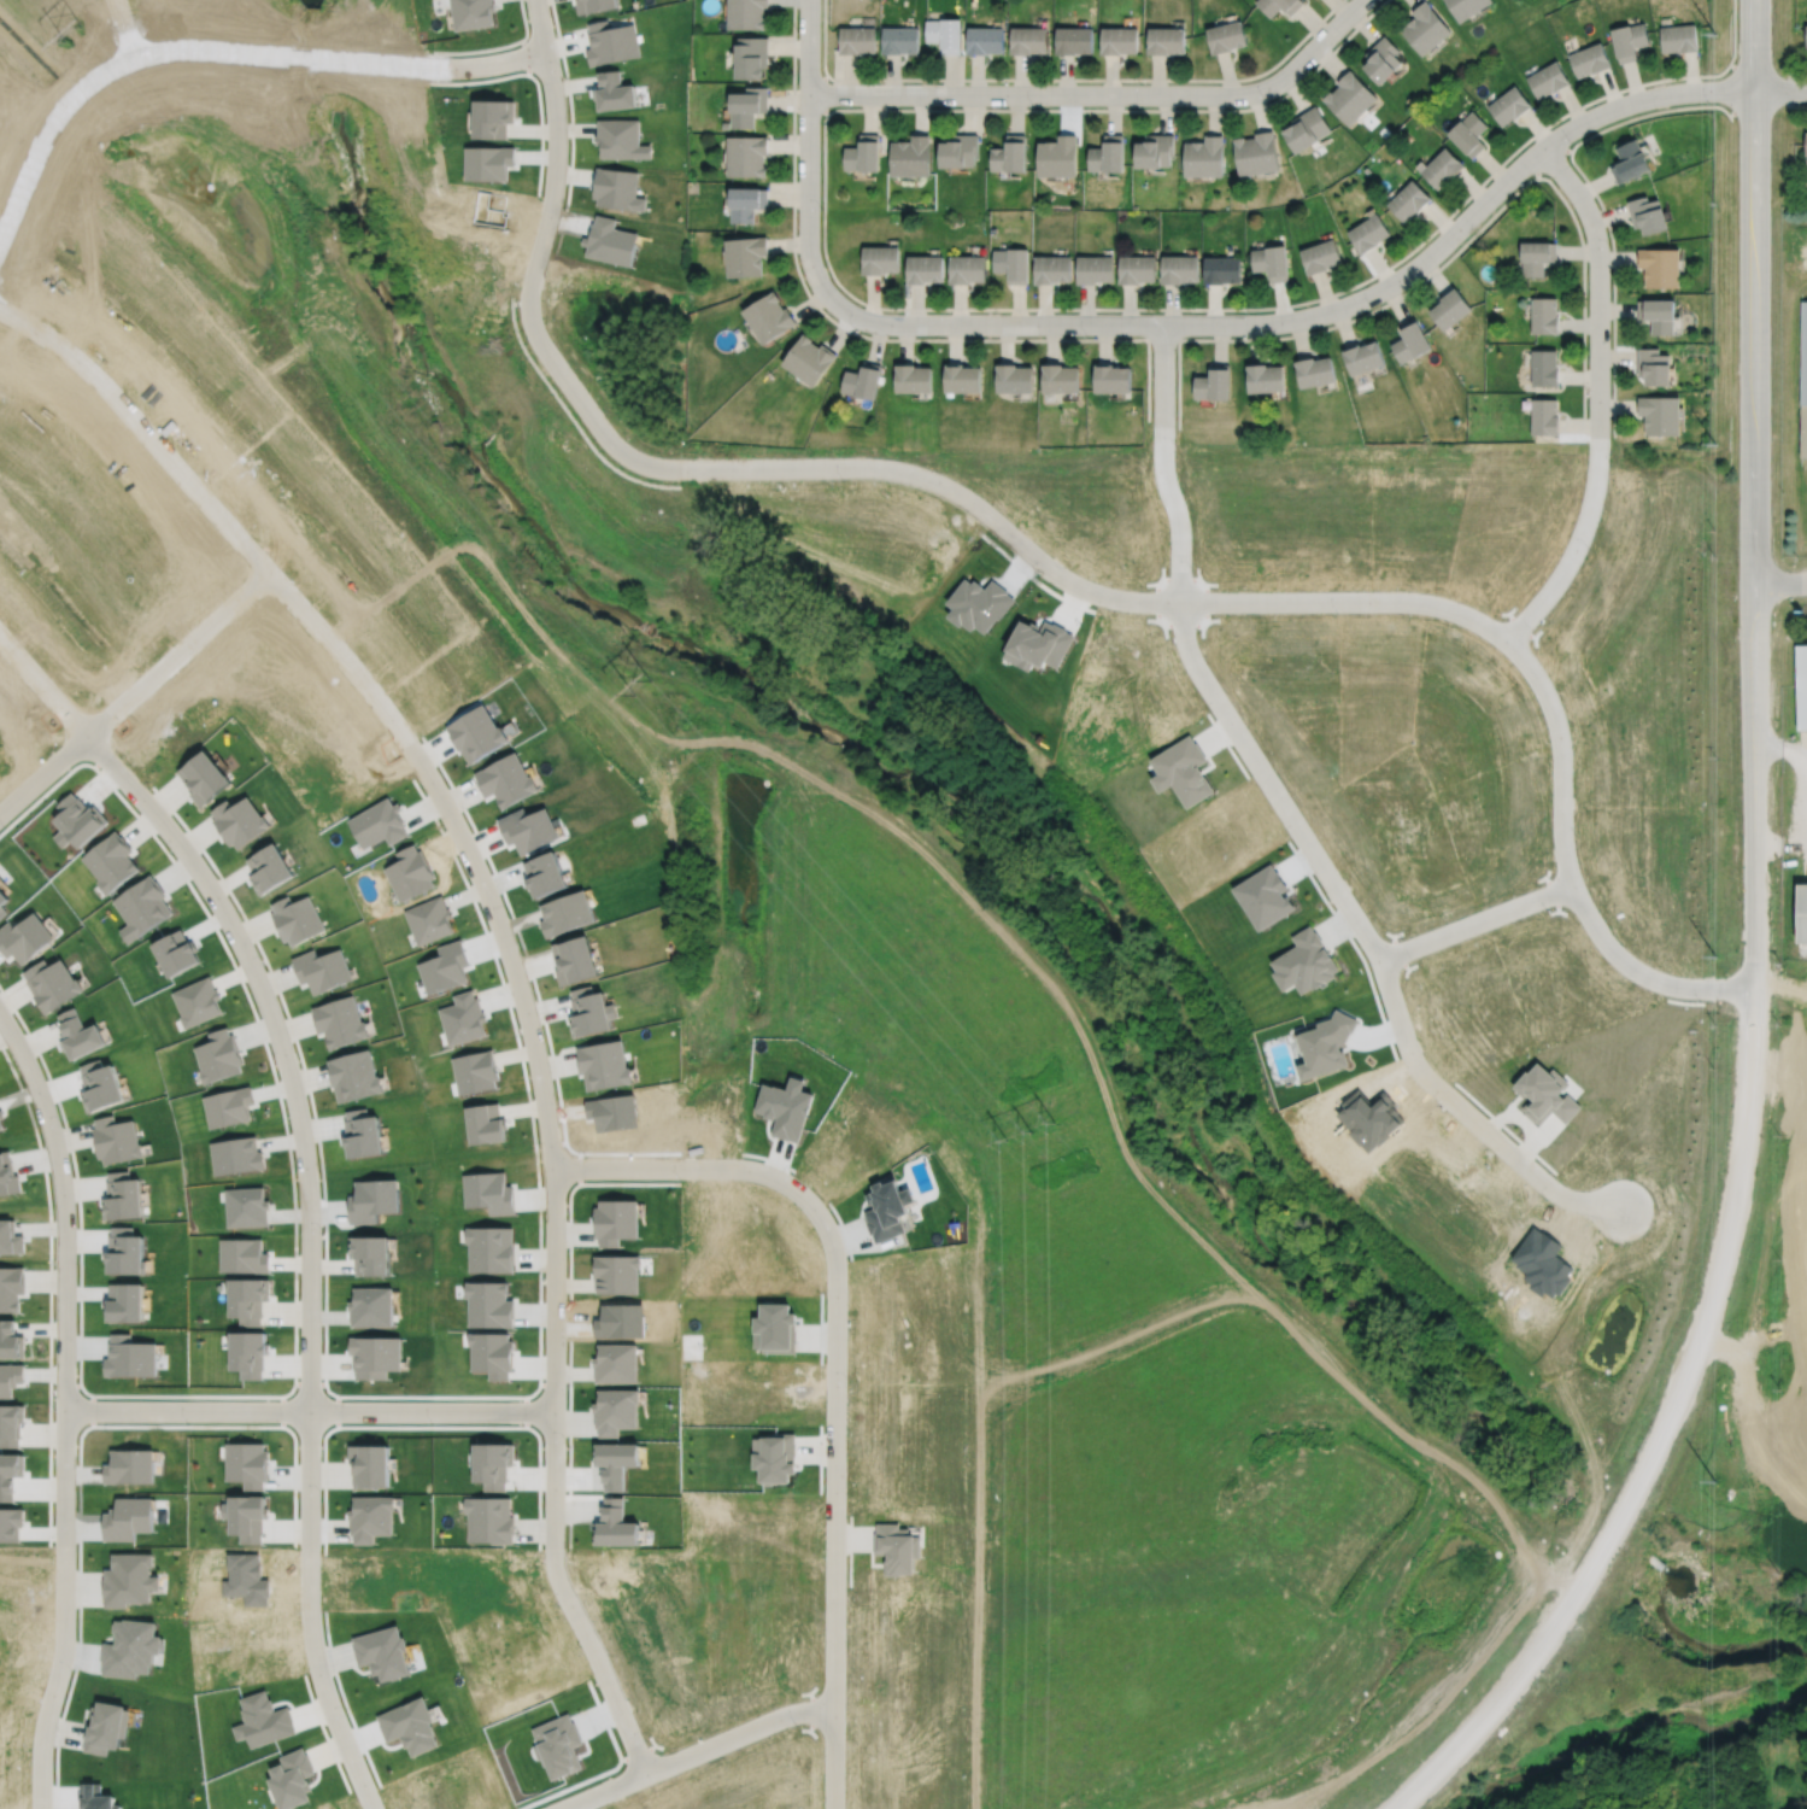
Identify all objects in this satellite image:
building: (593, 5)
building: (1279, 5)
building: (1466, 7)
building: (471, 12)
building: (746, 13)
building: (1426, 27)
power tower: (72, 34)
building: (945, 34)
building: (1226, 36)
building: (1678, 36)
building: (1806, 36)
building: (857, 39)
building: (899, 39)
building: (1074, 39)
building: (1119, 39)
building: (985, 40)
building: (1028, 40)
building: (1166, 40)
building: (1629, 40)
building: (751, 57)
building: (1589, 58)
road: (339, 59)
building: (1383, 59)
building: (1547, 78)
building: (614, 90)
road: (1102, 93)
building: (1350, 98)
road: (58, 103)
building: (1508, 104)
building: (747, 105)
building: (492, 117)
building: (1307, 130)
building: (1468, 134)
building: (620, 137)
building: (1806, 142)
building: (958, 151)
building: (1155, 151)
building: (863, 153)
building: (1256, 153)
road: (808, 154)
building: (1010, 154)
building: (1108, 154)
building: (746, 156)
building: (910, 156)
building: (1204, 156)
building: (1057, 157)
building: (1630, 162)
building: (1442, 168)
building: (617, 188)
building: (1409, 200)
building: (746, 203)
building: (1647, 213)
building: (1368, 233)
building: (745, 256)
building: (1320, 256)
building: (1536, 256)
building: (880, 259)
building: (1271, 262)
building: (1011, 264)
building: (1660, 265)
building: (967, 268)
building: (1051, 268)
building: (1093, 268)
building: (1178, 268)
building: (925, 269)
building: (1137, 269)
building: (1221, 269)
road: (532, 281)
road: (1754, 289)
road: (1351, 303)
building: (1450, 308)
building: (1658, 315)
building: (1544, 316)
building: (768, 317)
building: (1410, 340)
building: (1363, 357)
building: (809, 359)
building: (1654, 367)
building: (1544, 368)
building: (1315, 371)
building: (1014, 377)
building: (1113, 377)
building: (1265, 377)
building: (913, 379)
building: (962, 379)
building: (1060, 379)
building: (1803, 379)
building: (863, 381)
building: (1214, 384)
road: (1598, 398)
building: (1660, 414)
building: (1543, 417)
road: (141, 435)
road: (1779, 581)
road: (1334, 599)
power tower: (596, 633)
road: (180, 655)
building: (1801, 684)
road: (42, 689)
road: (1779, 751)
road: (1753, 767)
building: (1181, 769)
road: (42, 772)
building: (204, 775)
road: (1292, 819)
road: (1779, 847)
building: (110, 861)
building: (269, 867)
building: (1802, 913)
building: (295, 918)
road: (1474, 921)
building: (24, 936)
building: (1303, 961)
building: (322, 968)
building: (51, 983)
building: (196, 1001)
building: (340, 1020)
building: (353, 1075)
building: (1544, 1094)
power tower: (1028, 1128)
building: (116, 1138)
road: (550, 1146)
road: (686, 1167)
building: (7, 1175)
road: (310, 1246)
building: (244, 1255)
building: (615, 1272)
building: (11, 1287)
building: (247, 1298)
building: (10, 1339)
road: (64, 1407)
road: (307, 1410)
road: (1666, 1419)
building: (10, 1423)
building: (772, 1458)
building: (369, 1464)
road: (834, 1501)
building: (370, 1516)
building: (488, 1518)
building: (894, 1547)
building: (127, 1579)
building: (105, 1727)
road: (694, 1751)
building: (291, 1778)

